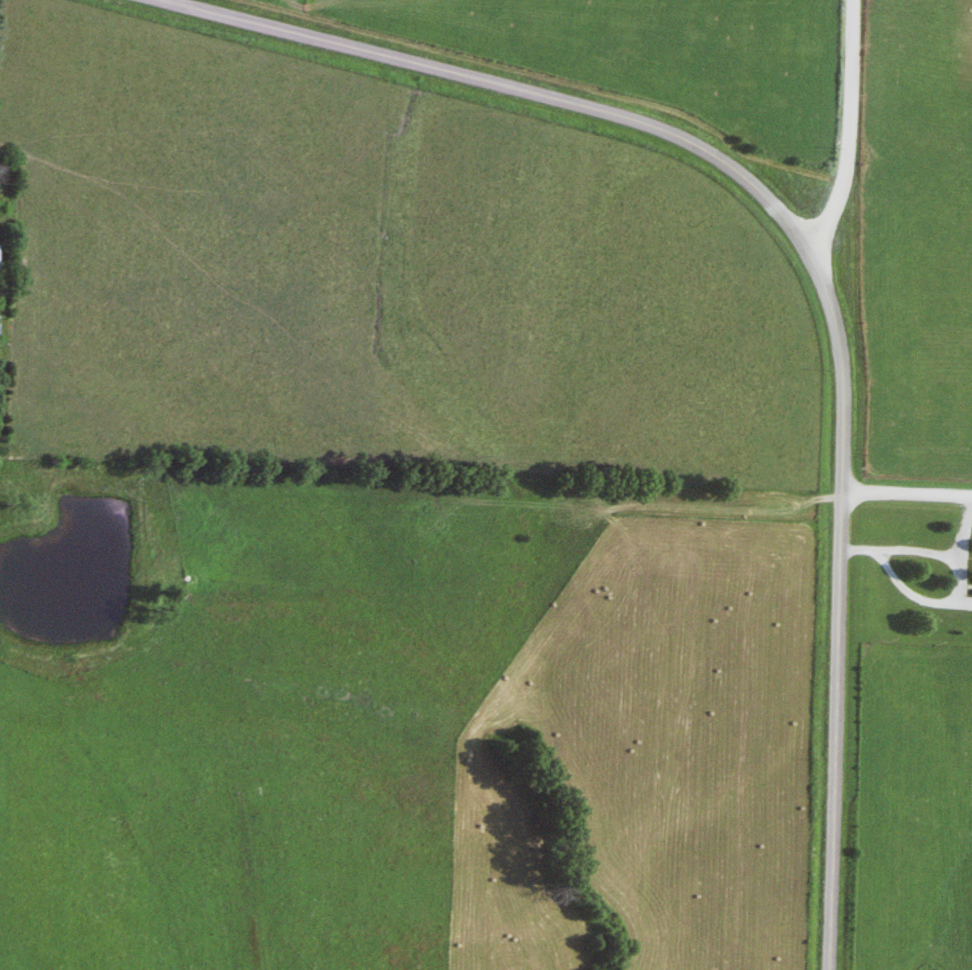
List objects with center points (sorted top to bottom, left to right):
road: (851, 131)
road: (805, 249)
road: (908, 500)
road: (961, 534)
road: (957, 584)

